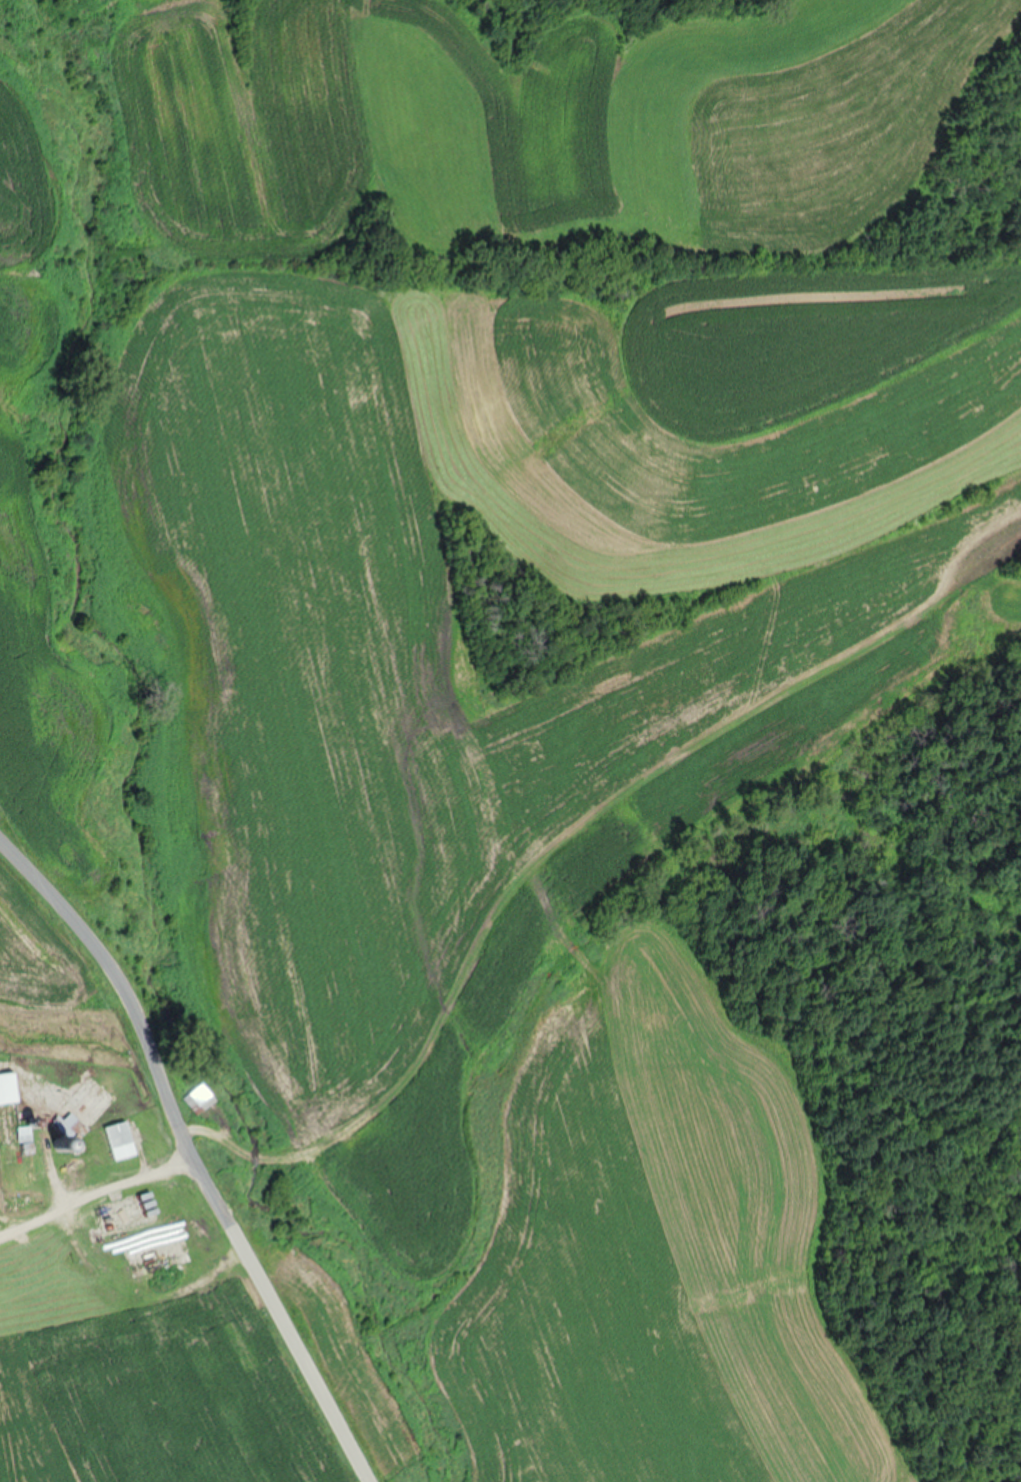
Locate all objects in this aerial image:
building: (197, 1097)
building: (79, 1108)
building: (10, 1118)
building: (122, 1144)
road: (147, 1163)
building: (23, 1194)
road: (75, 1207)
building: (6, 1237)
building: (53, 1287)

